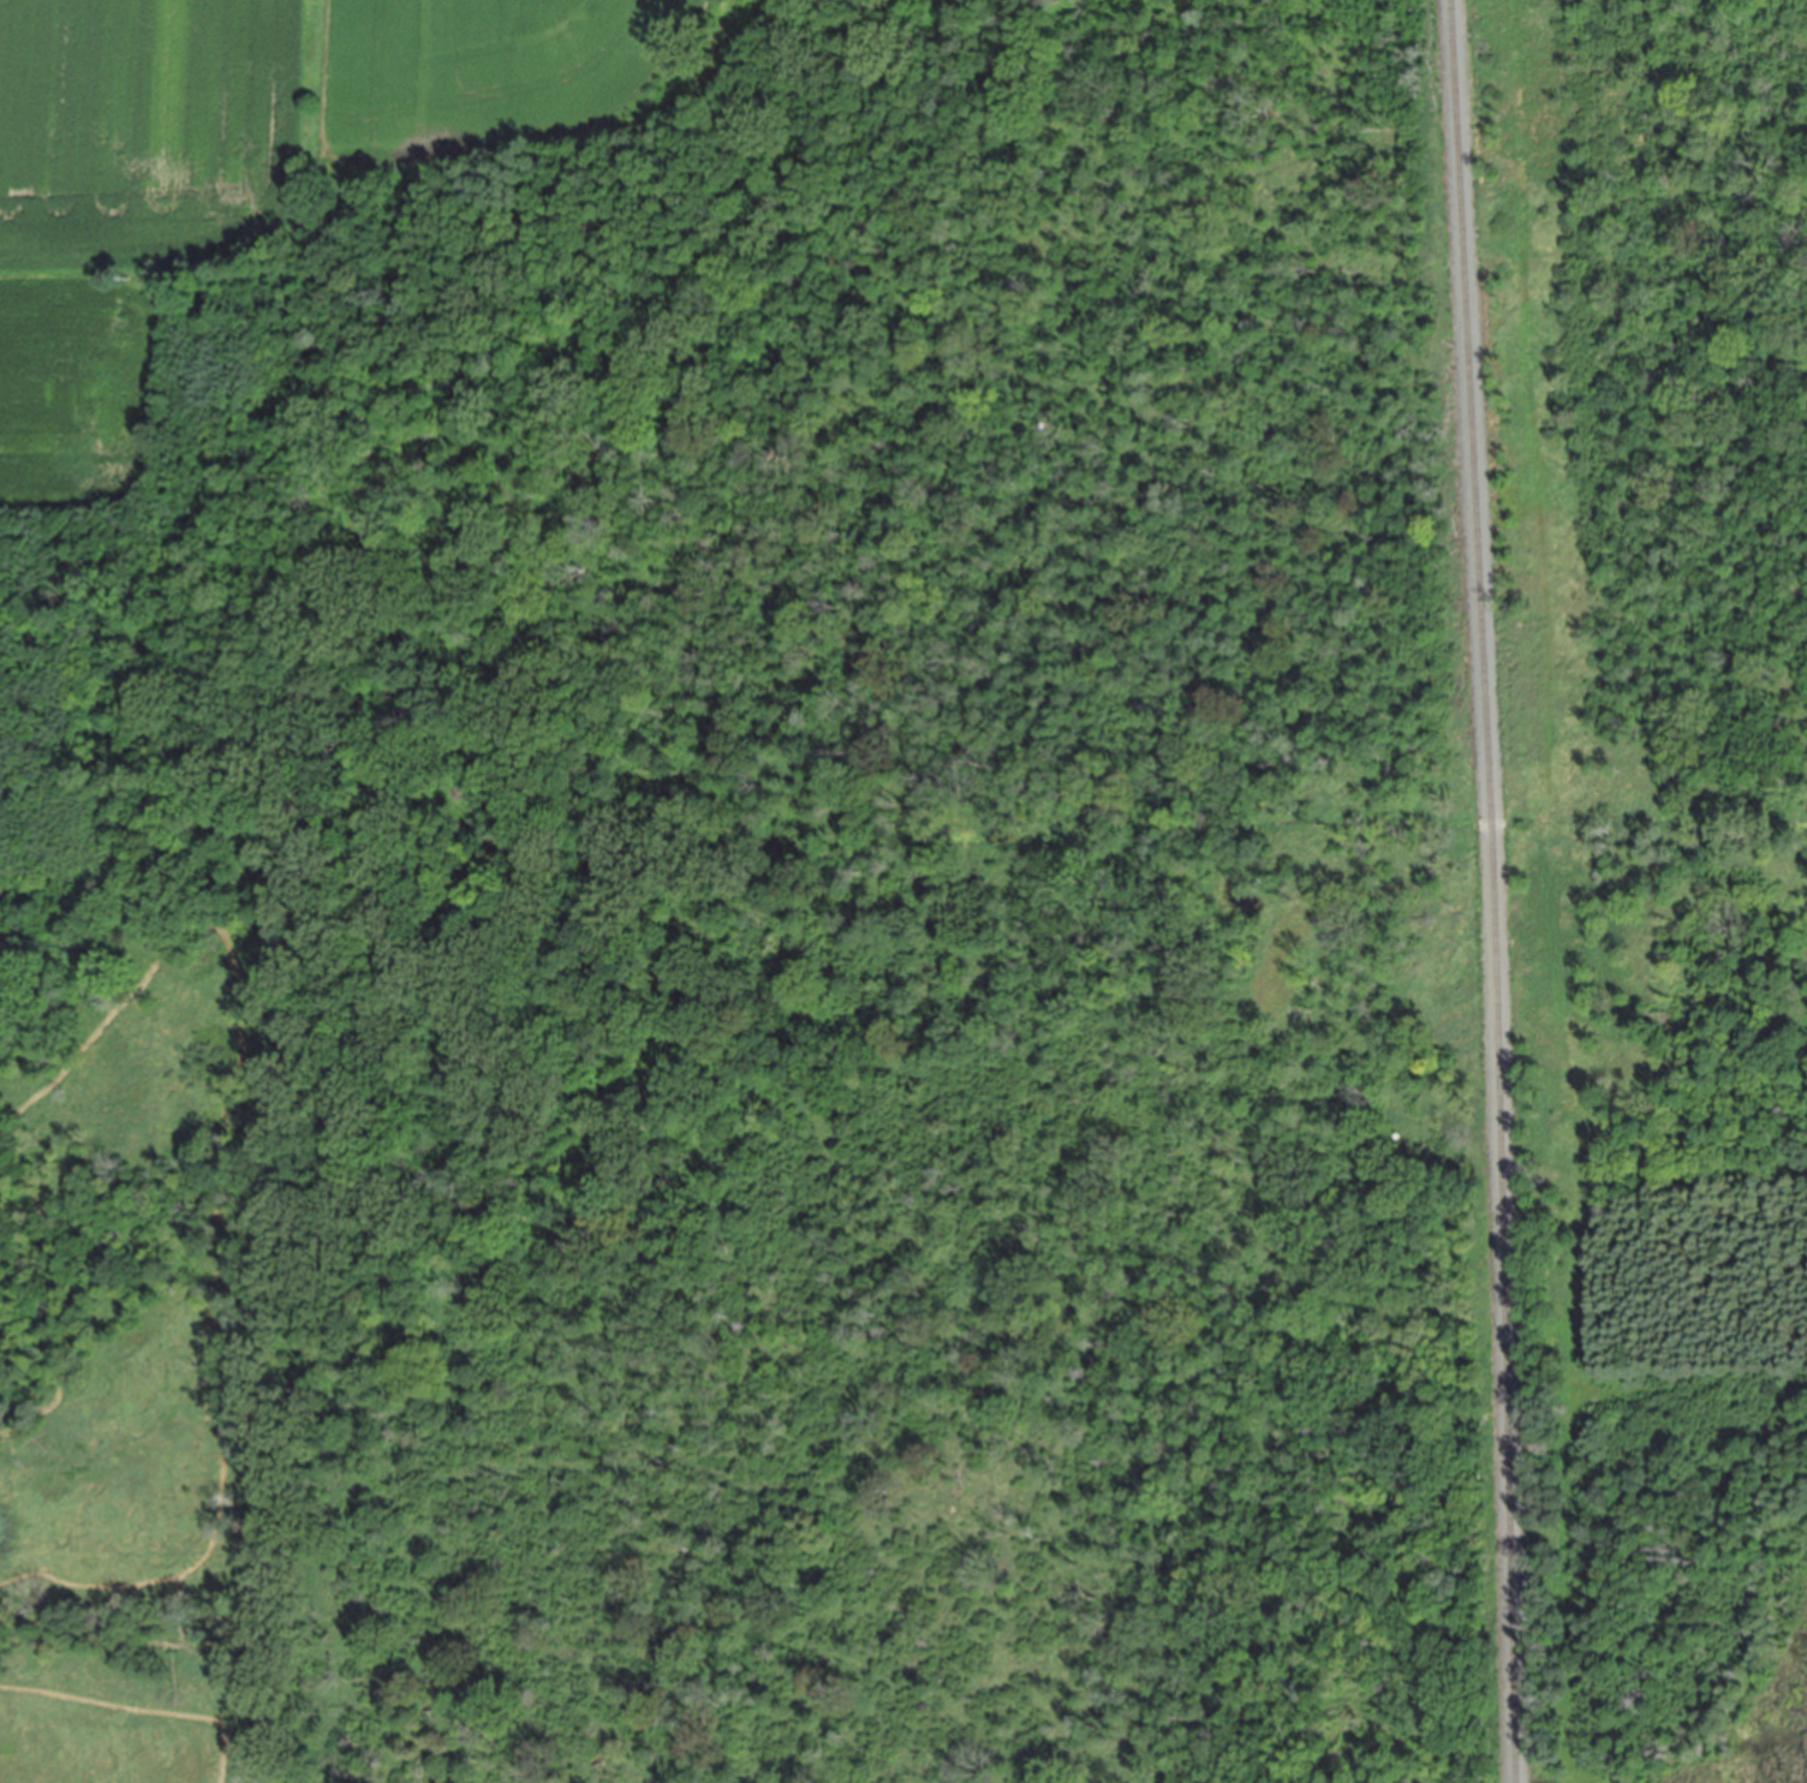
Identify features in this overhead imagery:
building: (513, 837)
railway: (1492, 890)

